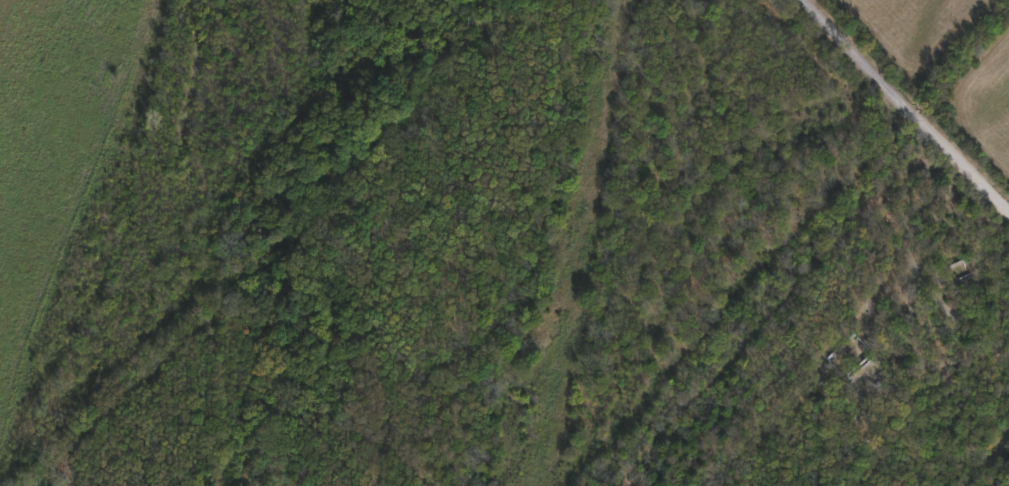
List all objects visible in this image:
road: (900, 108)

